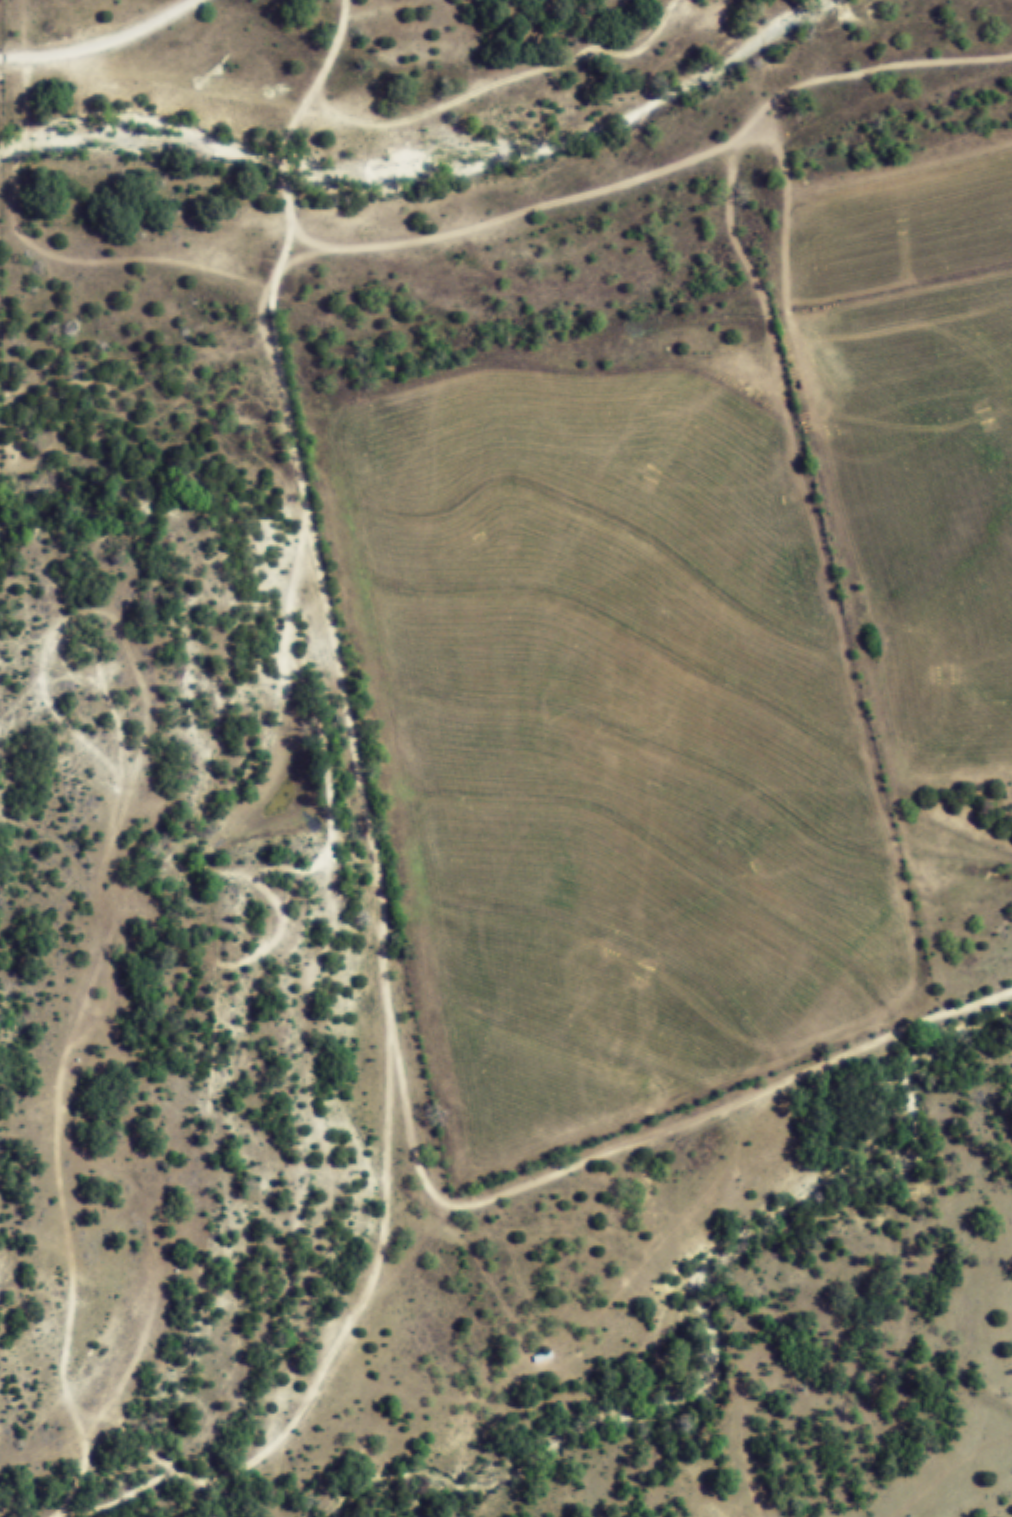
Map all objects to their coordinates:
road: (102, 42)
road: (364, 115)
road: (533, 221)
road: (382, 885)

